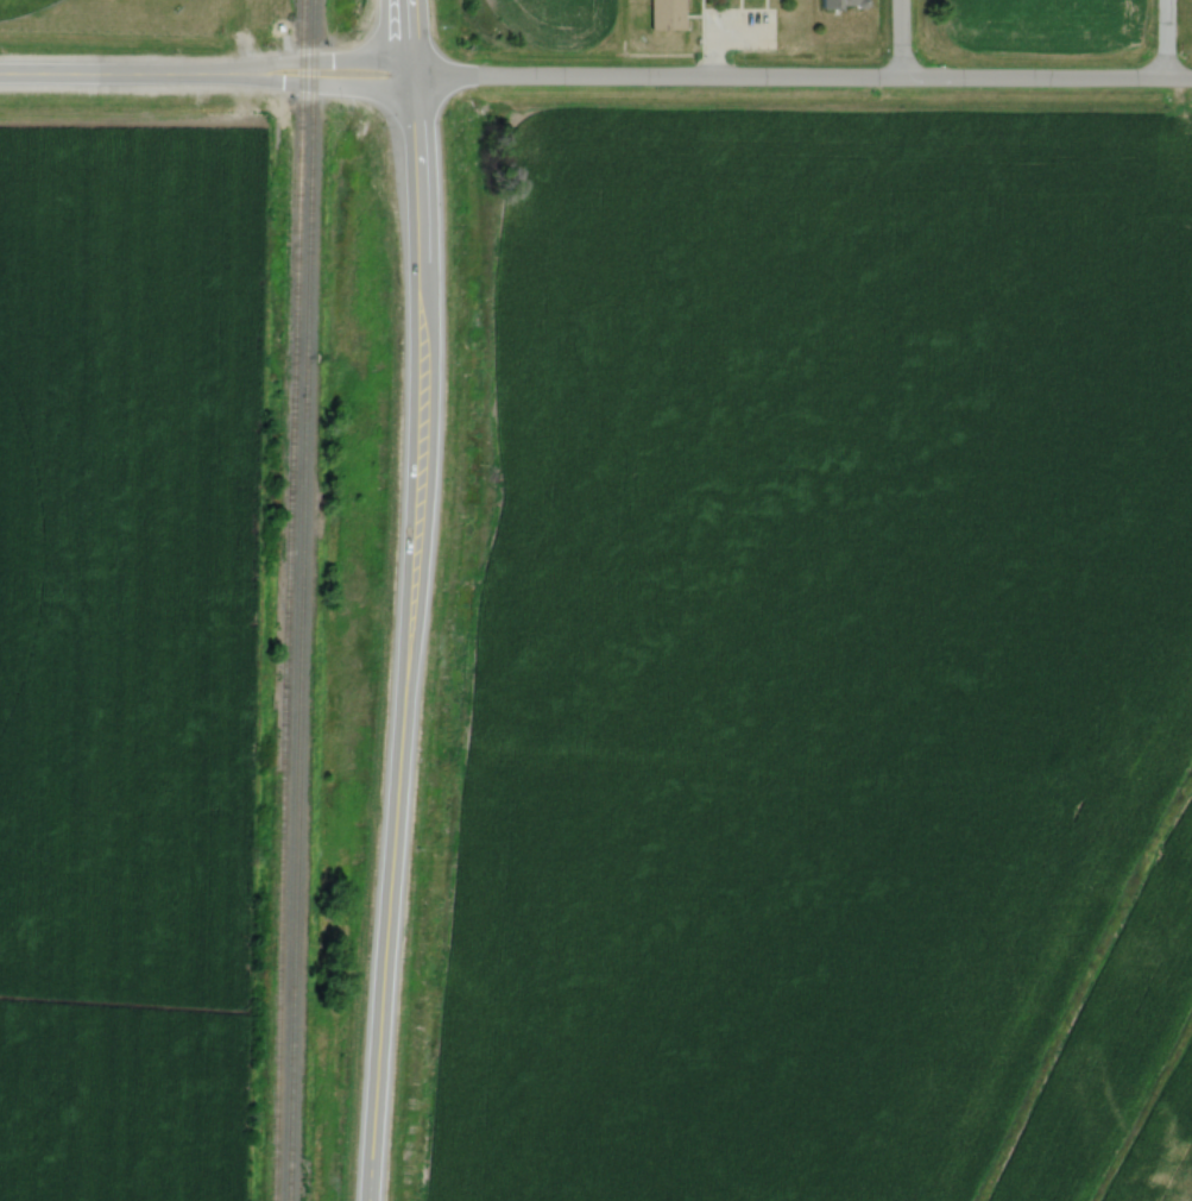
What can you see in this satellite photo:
building: (841, 5)
park: (20, 7)
building: (667, 15)
road: (408, 36)
road: (897, 38)
road: (1162, 39)
road: (204, 70)
road: (800, 77)
railway: (279, 599)
railway: (295, 600)
road: (406, 636)
crop: (124, 646)

